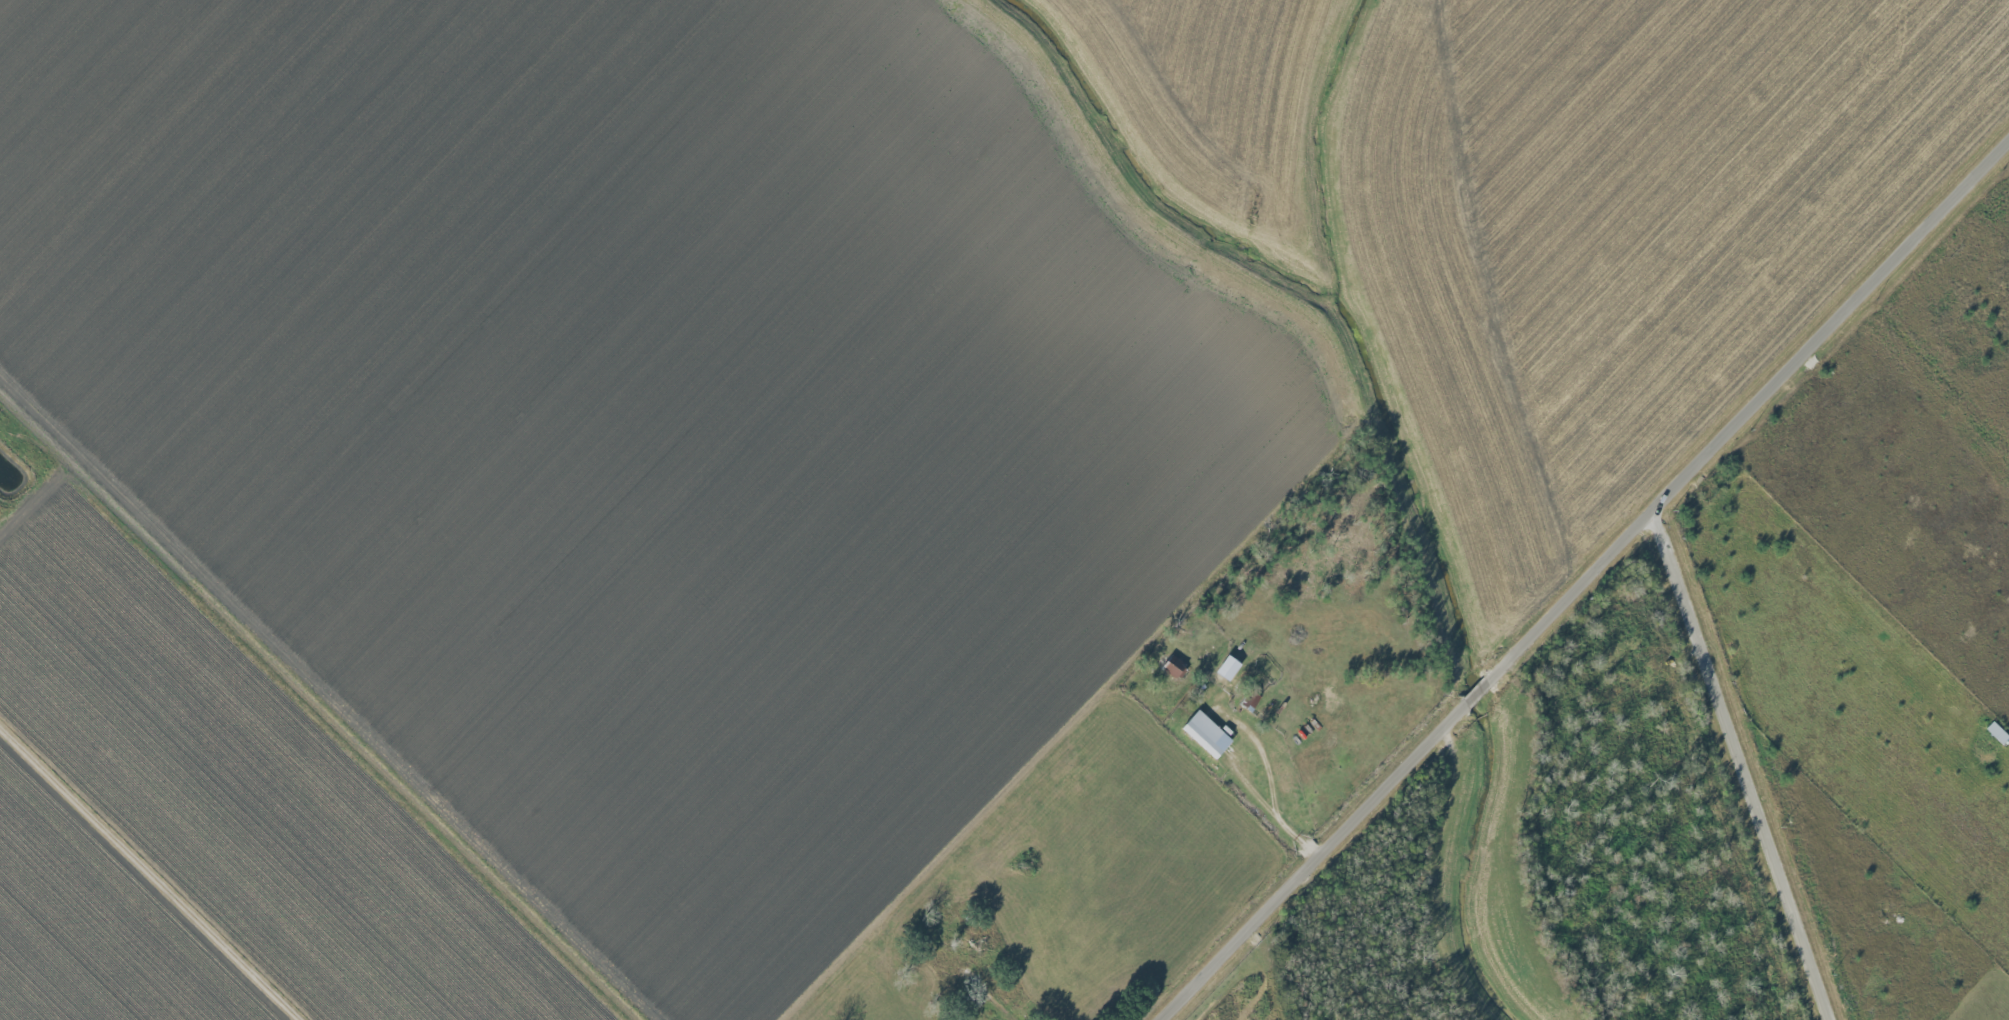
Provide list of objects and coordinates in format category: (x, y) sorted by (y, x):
road: (1498, 293)
road: (1586, 583)
building: (1175, 666)
building: (1229, 667)
road: (325, 695)
building: (1998, 732)
building: (1207, 734)
road: (1746, 765)
road: (1272, 799)
road: (149, 875)
road: (1281, 969)

